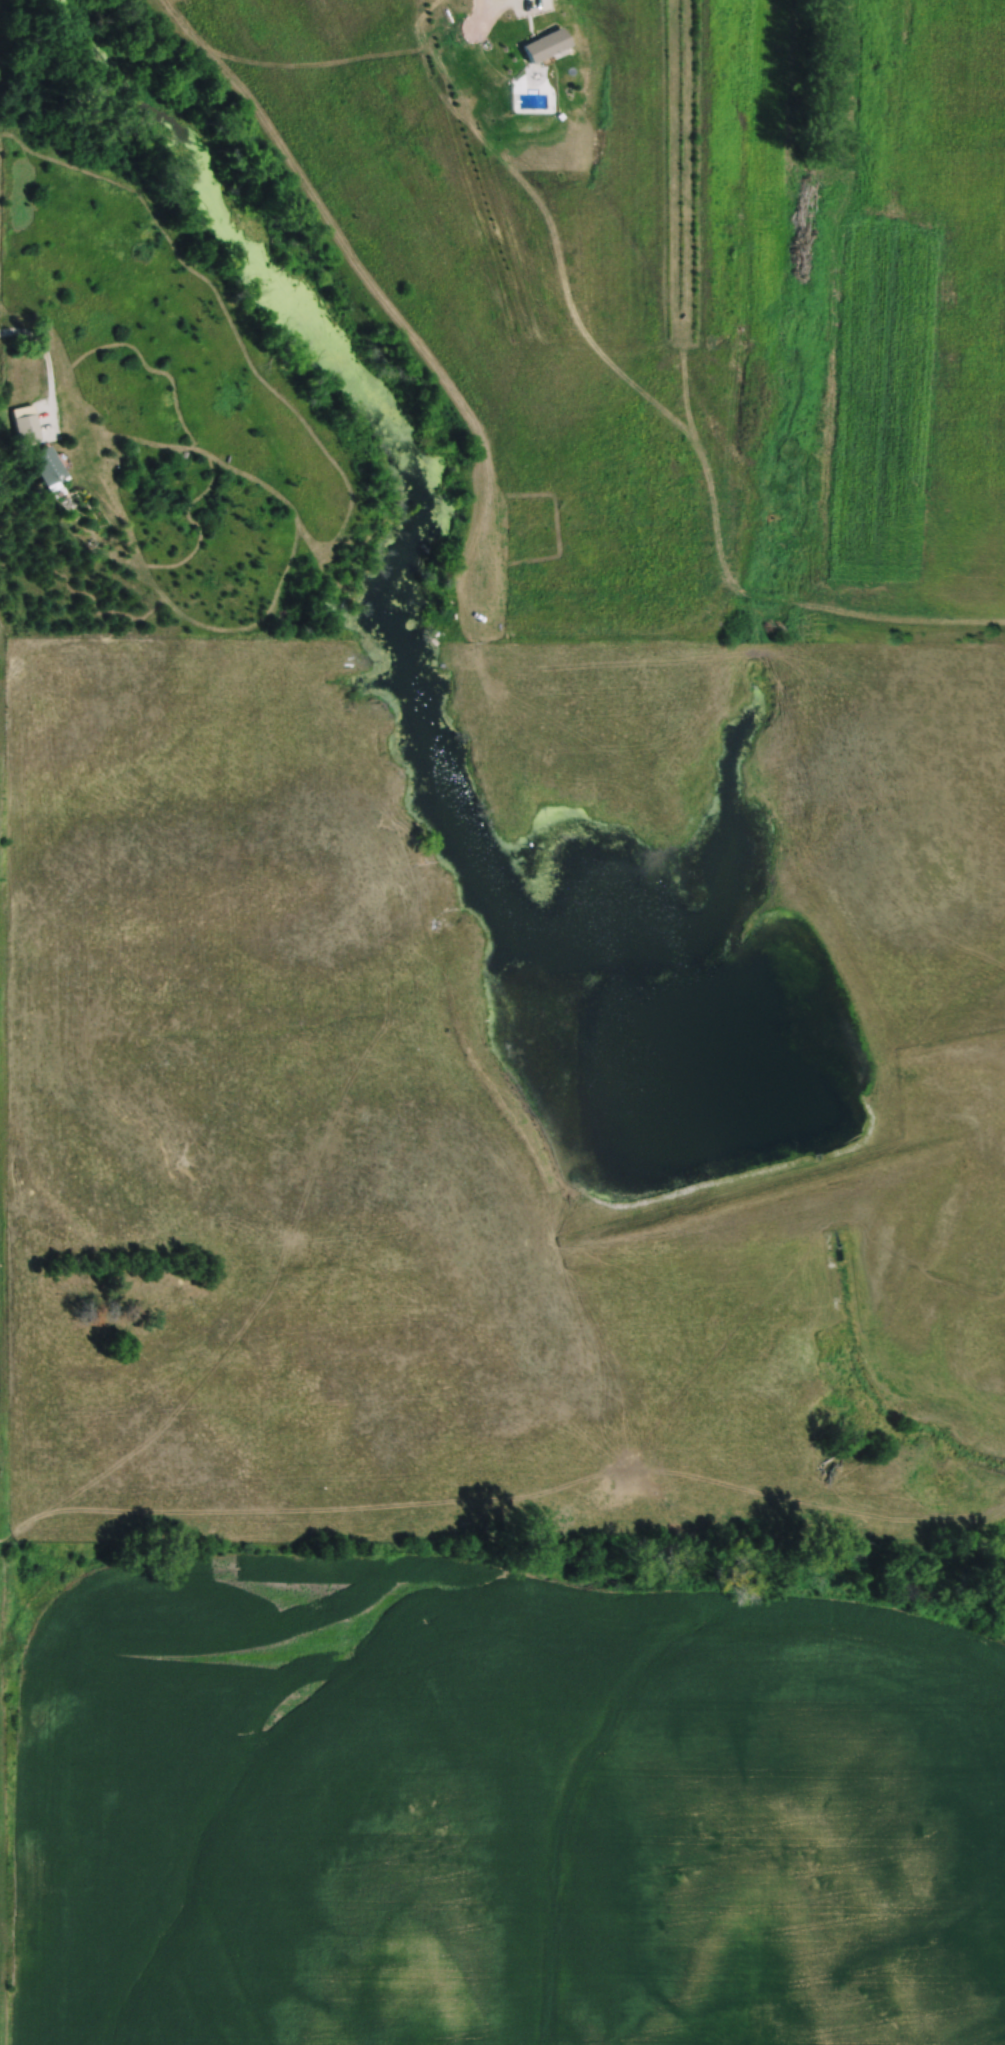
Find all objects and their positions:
building: (550, 44)
building: (30, 424)
building: (52, 465)

